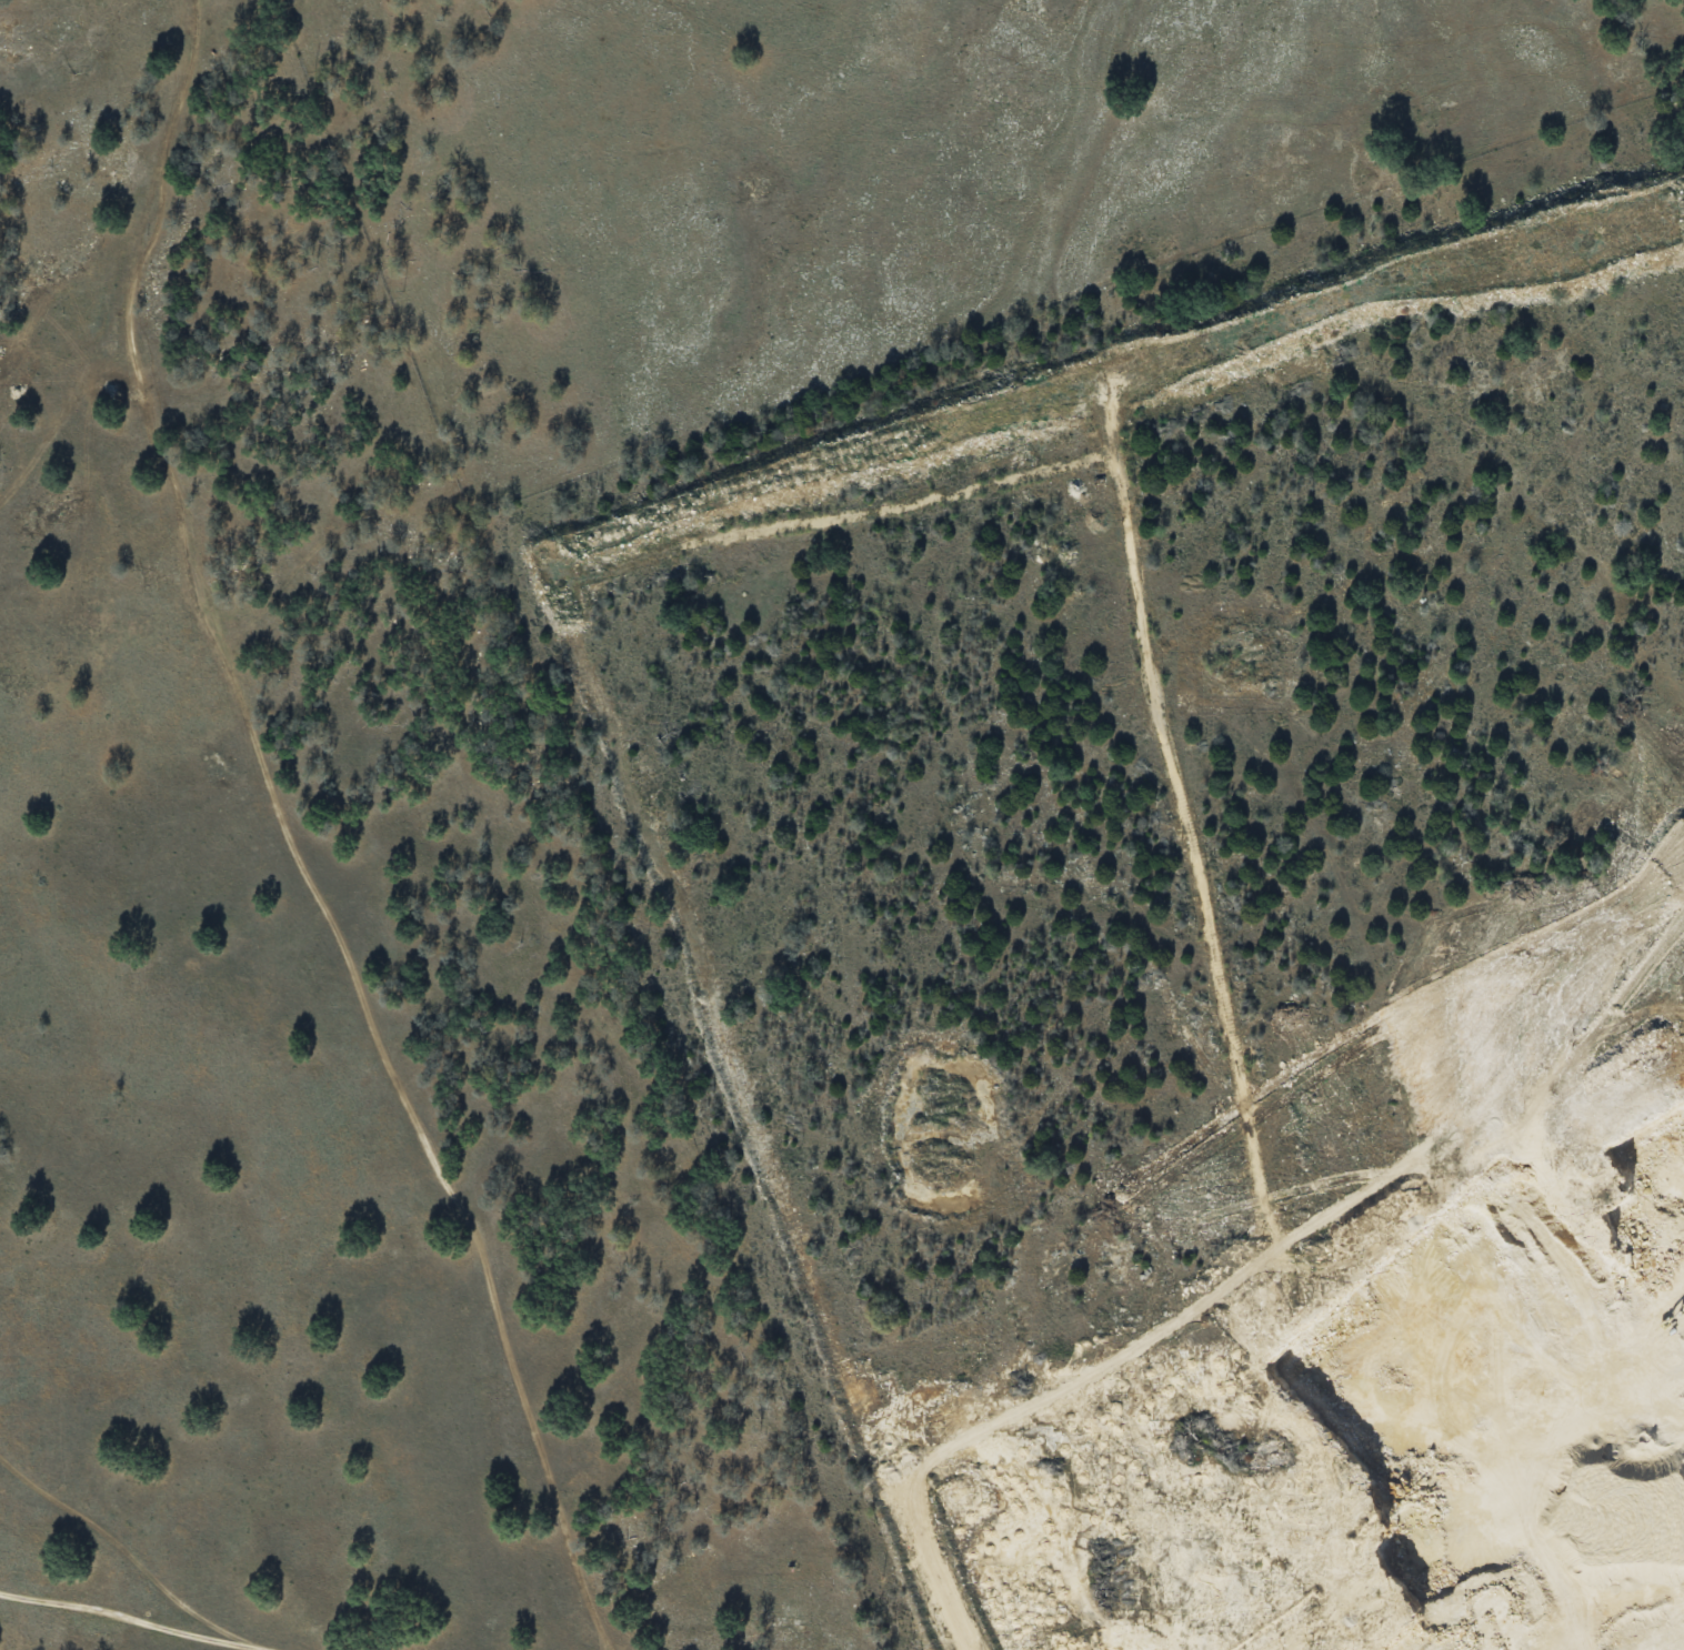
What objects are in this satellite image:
road: (134, 1621)

